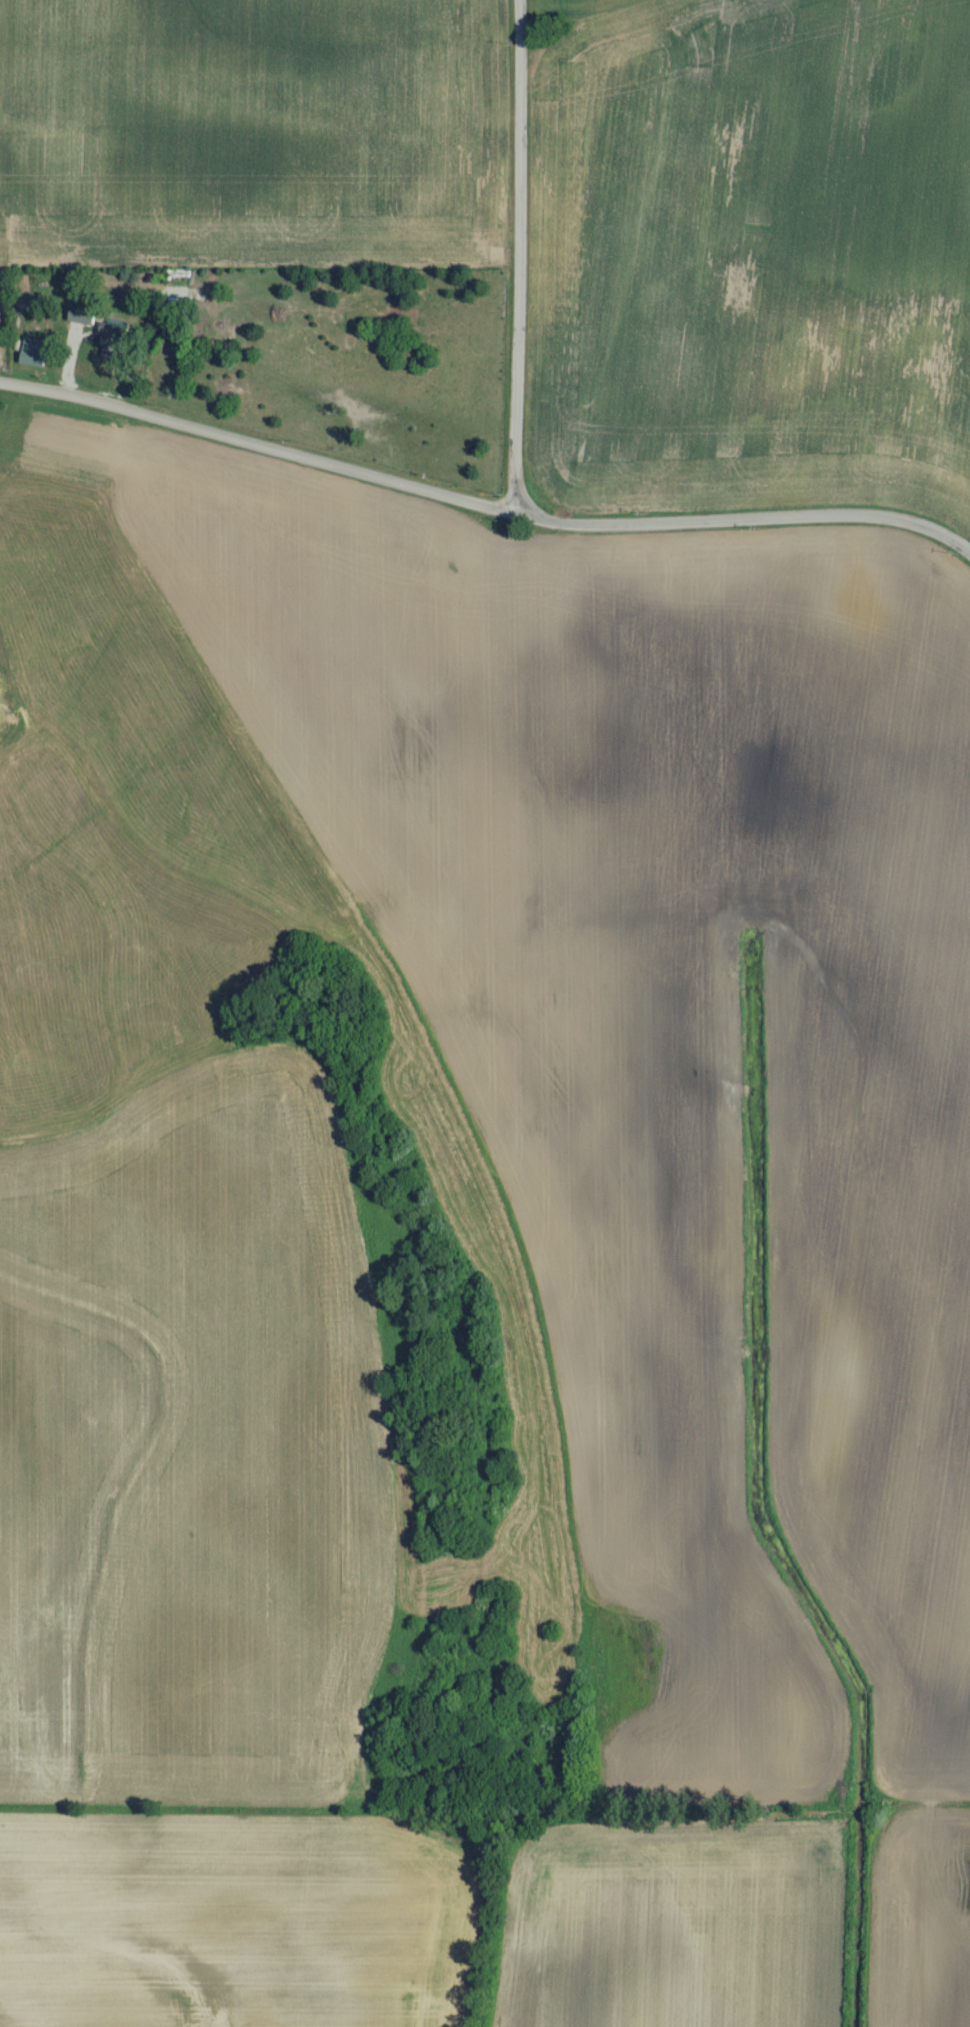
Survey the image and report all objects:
road: (518, 255)
building: (84, 323)
building: (34, 360)
road: (482, 502)

